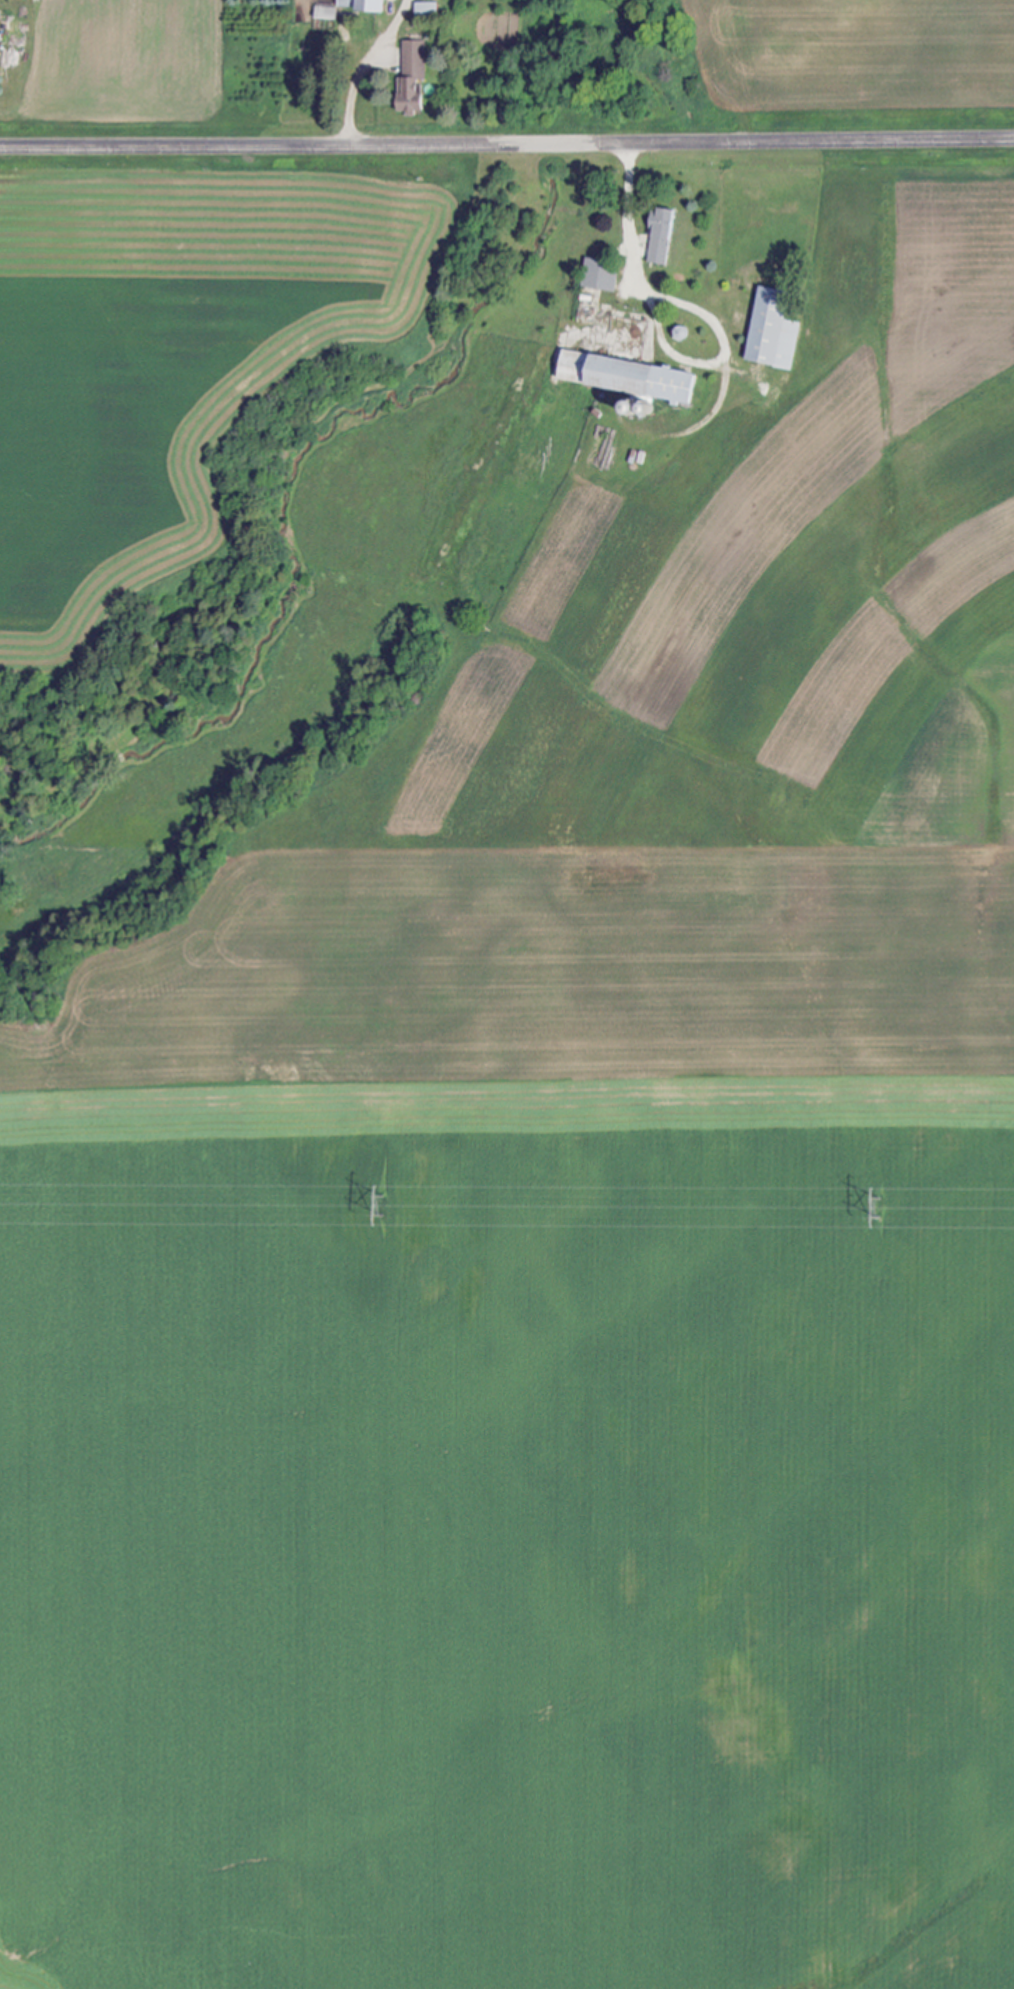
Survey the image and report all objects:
building: (357, 5)
building: (423, 8)
building: (323, 12)
road: (367, 68)
building: (407, 76)
road: (507, 142)
road: (629, 215)
building: (658, 236)
building: (598, 275)
building: (769, 331)
building: (623, 377)
power tower: (383, 1203)
power tower: (882, 1209)

